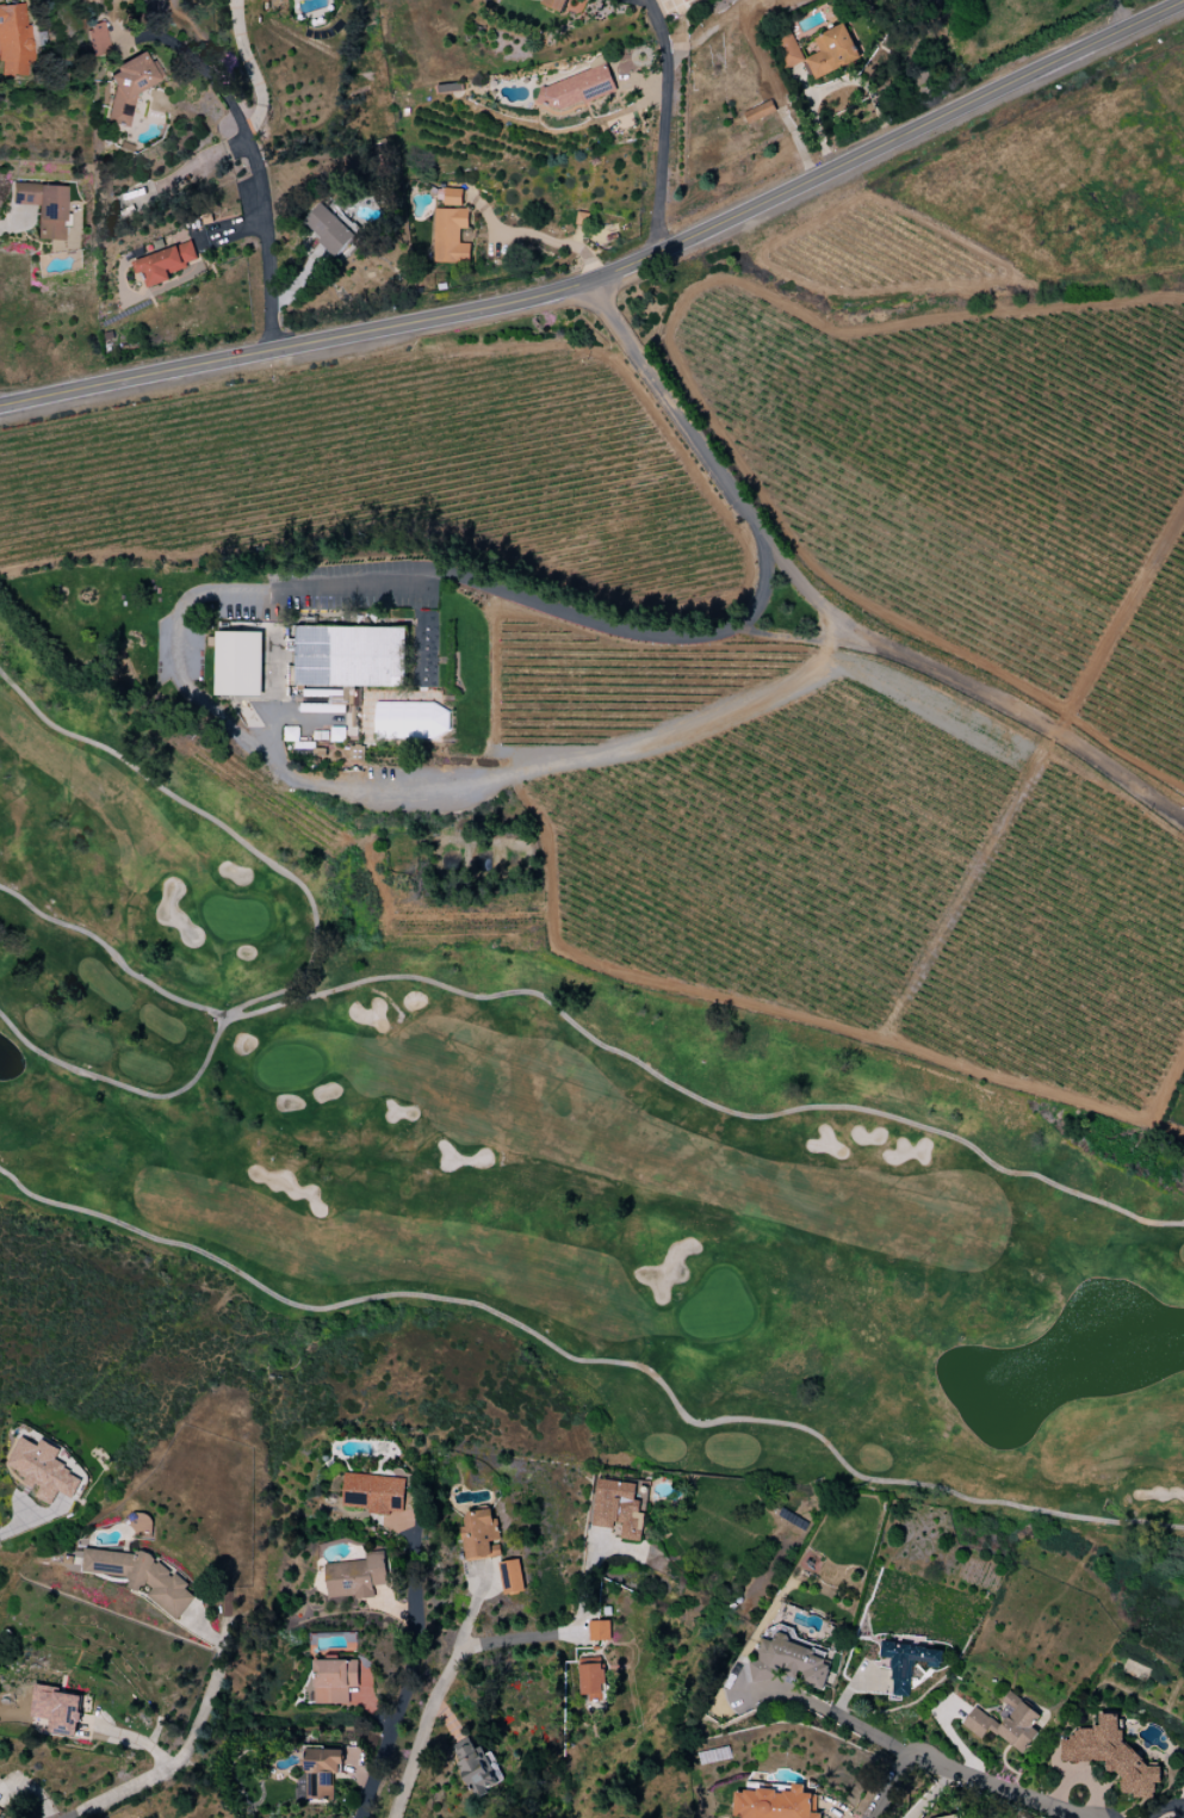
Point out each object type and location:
building: (686, 0)
building: (554, 4)
road: (1122, 13)
building: (97, 39)
building: (14, 41)
building: (787, 49)
building: (831, 51)
road: (256, 69)
building: (129, 89)
building: (577, 89)
building: (758, 111)
road: (663, 125)
road: (256, 151)
building: (450, 196)
building: (44, 208)
road: (240, 228)
building: (328, 229)
building: (450, 236)
road: (554, 242)
building: (165, 264)
road: (615, 272)
road: (763, 582)
road: (359, 586)
parking lot: (358, 588)
road: (831, 612)
road: (785, 637)
building: (349, 656)
building: (238, 663)
building: (411, 721)
building: (291, 734)
road: (579, 752)
park: (600, 1126)
building: (43, 1470)
building: (373, 1492)
building: (618, 1508)
building: (479, 1535)
building: (357, 1576)
building: (512, 1577)
building: (142, 1578)
building: (600, 1630)
road: (464, 1655)
building: (789, 1661)
building: (907, 1663)
road: (410, 1674)
building: (335, 1680)
building: (591, 1680)
building: (57, 1709)
building: (1006, 1723)
road: (848, 1724)
road: (187, 1746)
building: (1111, 1756)
building: (477, 1767)
building: (321, 1773)
road: (962, 1775)
building: (774, 1804)
building: (1, 1811)
building: (954, 1817)

